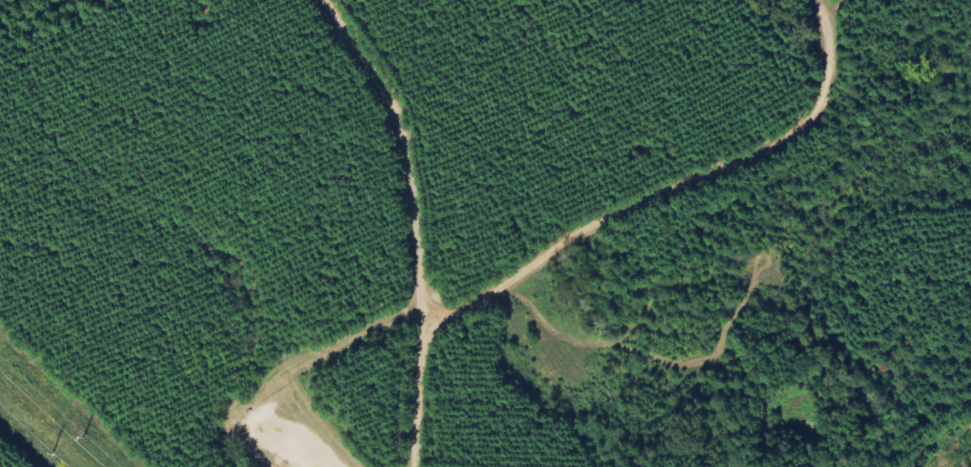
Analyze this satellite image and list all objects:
road: (842, 8)
road: (383, 157)
road: (681, 193)
road: (431, 393)

